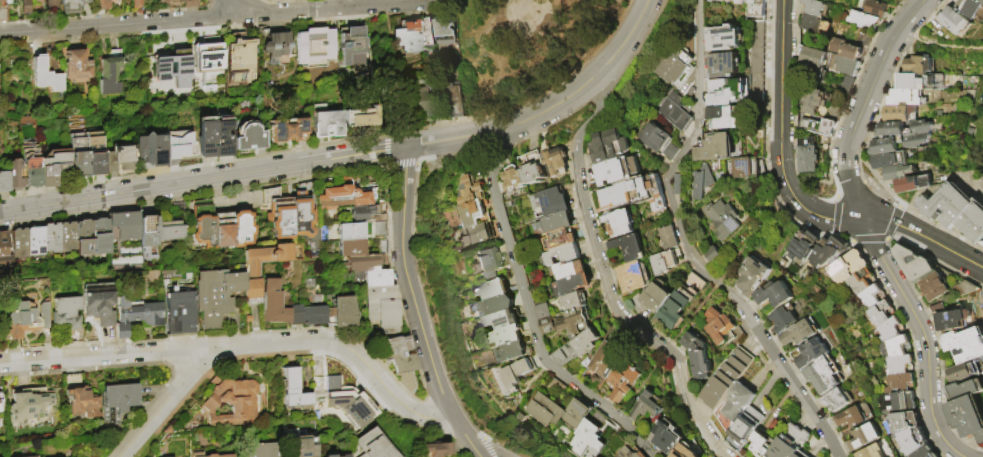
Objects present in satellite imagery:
building: (981, 0)
road: (278, 1)
building: (134, 3)
building: (100, 5)
building: (189, 5)
building: (70, 6)
road: (252, 6)
building: (50, 7)
road: (457, 7)
building: (816, 7)
building: (25, 8)
building: (875, 8)
building: (972, 8)
building: (753, 9)
building: (3, 10)
road: (106, 14)
road: (229, 15)
building: (862, 19)
building: (813, 22)
building: (958, 22)
road: (229, 26)
building: (428, 31)
building: (449, 33)
building: (403, 35)
road: (486, 39)
building: (726, 39)
building: (352, 40)
road: (535, 43)
road: (642, 43)
road: (940, 43)
building: (275, 44)
building: (316, 46)
park: (529, 46)
building: (846, 49)
building: (208, 51)
building: (178, 53)
building: (816, 57)
building: (242, 63)
building: (844, 65)
building: (920, 65)
building: (78, 66)
building: (725, 66)
building: (678, 67)
building: (169, 72)
building: (111, 74)
building: (47, 76)
road: (567, 79)
building: (918, 83)
building: (845, 84)
building: (728, 91)
road: (489, 92)
road: (603, 93)
building: (912, 98)
building: (816, 100)
building: (459, 101)
road: (863, 103)
building: (424, 105)
road: (551, 110)
building: (678, 112)
building: (900, 113)
building: (445, 116)
building: (360, 117)
building: (725, 118)
building: (326, 122)
building: (820, 127)
building: (288, 131)
building: (901, 136)
building: (224, 137)
building: (249, 137)
road: (780, 137)
building: (208, 138)
building: (659, 140)
building: (180, 145)
building: (611, 146)
building: (716, 148)
building: (152, 150)
building: (96, 154)
road: (684, 154)
building: (807, 154)
building: (79, 155)
building: (120, 158)
road: (237, 158)
building: (891, 160)
building: (558, 163)
building: (32, 165)
building: (55, 167)
building: (535, 167)
building: (749, 168)
building: (616, 171)
building: (899, 173)
building: (15, 176)
building: (516, 179)
road: (202, 180)
building: (4, 182)
building: (702, 182)
building: (915, 184)
building: (678, 185)
building: (471, 191)
building: (635, 194)
building: (345, 196)
building: (555, 202)
building: (303, 211)
building: (957, 211)
building: (279, 214)
building: (474, 214)
building: (366, 215)
building: (723, 219)
building: (556, 223)
building: (621, 223)
building: (204, 224)
building: (127, 225)
building: (242, 229)
building: (381, 229)
building: (223, 230)
building: (171, 231)
building: (351, 232)
building: (479, 234)
road: (924, 236)
building: (68, 237)
building: (101, 237)
building: (52, 238)
building: (85, 238)
building: (150, 239)
building: (561, 239)
building: (669, 239)
building: (37, 240)
building: (21, 243)
building: (804, 244)
building: (981, 244)
building: (351, 248)
building: (631, 248)
building: (827, 249)
building: (5, 253)
building: (561, 255)
building: (713, 255)
building: (125, 257)
building: (665, 262)
building: (364, 263)
building: (490, 263)
building: (916, 264)
building: (849, 268)
building: (569, 270)
building: (252, 272)
building: (755, 277)
building: (633, 278)
building: (377, 279)
road: (606, 282)
building: (863, 282)
building: (573, 286)
building: (936, 288)
building: (966, 289)
building: (493, 290)
road: (410, 295)
building: (776, 295)
building: (215, 297)
building: (873, 297)
building: (658, 298)
building: (577, 301)
building: (683, 301)
building: (272, 303)
building: (638, 303)
building: (495, 306)
building: (100, 308)
building: (384, 309)
building: (544, 312)
building: (180, 313)
building: (343, 313)
building: (66, 314)
building: (882, 314)
building: (45, 315)
road: (530, 315)
building: (137, 316)
building: (307, 316)
building: (785, 318)
building: (21, 320)
building: (505, 321)
building: (577, 321)
building: (954, 321)
building: (549, 326)
building: (724, 329)
building: (892, 330)
building: (800, 334)
building: (506, 336)
road: (924, 337)
building: (966, 346)
building: (579, 348)
building: (896, 348)
road: (353, 352)
building: (513, 352)
building: (398, 354)
building: (813, 354)
road: (108, 357)
building: (700, 357)
building: (607, 362)
building: (900, 365)
road: (784, 370)
building: (963, 373)
building: (332, 374)
building: (518, 374)
building: (825, 375)
building: (728, 379)
building: (406, 381)
building: (624, 383)
building: (901, 384)
building: (294, 390)
building: (0, 391)
building: (964, 391)
building: (80, 398)
building: (347, 400)
building: (838, 400)
building: (117, 402)
building: (739, 402)
building: (898, 402)
road: (169, 403)
building: (234, 403)
building: (28, 405)
building: (649, 406)
building: (547, 410)
building: (579, 414)
building: (856, 416)
building: (967, 418)
building: (905, 423)
building: (747, 427)
building: (587, 435)
building: (668, 437)
building: (865, 437)
building: (790, 443)
building: (914, 443)
building: (762, 444)
building: (374, 445)
road: (487, 445)
road: (472, 446)
building: (302, 447)
building: (438, 449)
building: (263, 450)
building: (877, 451)
building: (629, 453)
building: (929, 453)
building: (802, 454)
building: (345, 455)
building: (677, 455)
building: (211, 456)
building: (226, 456)
building: (331, 456)

